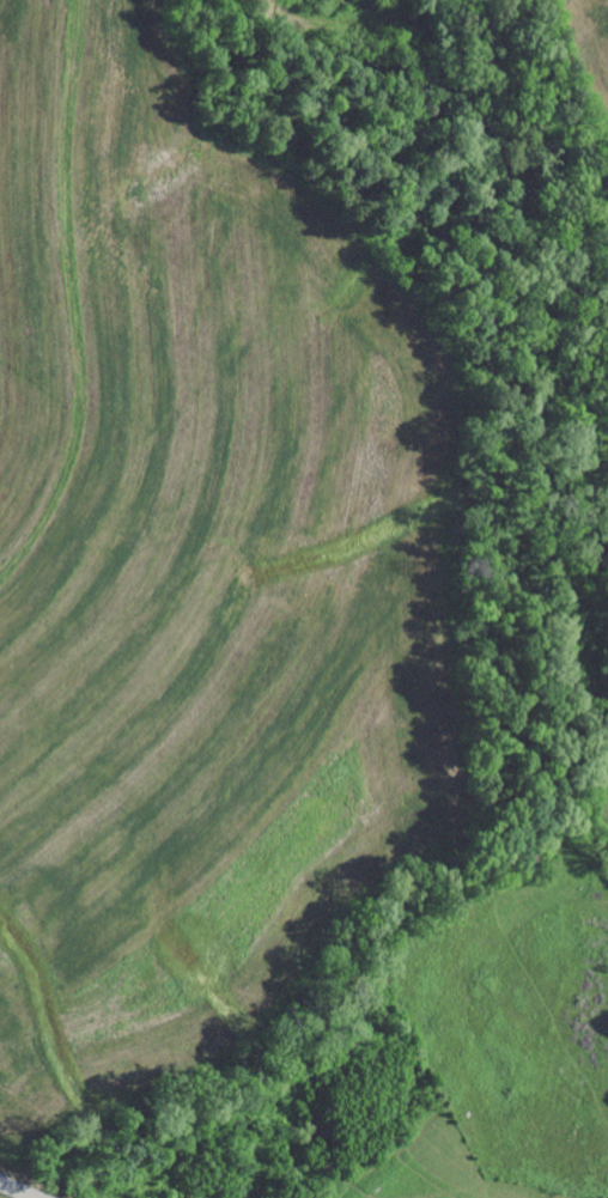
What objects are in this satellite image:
road: (16, 1190)

